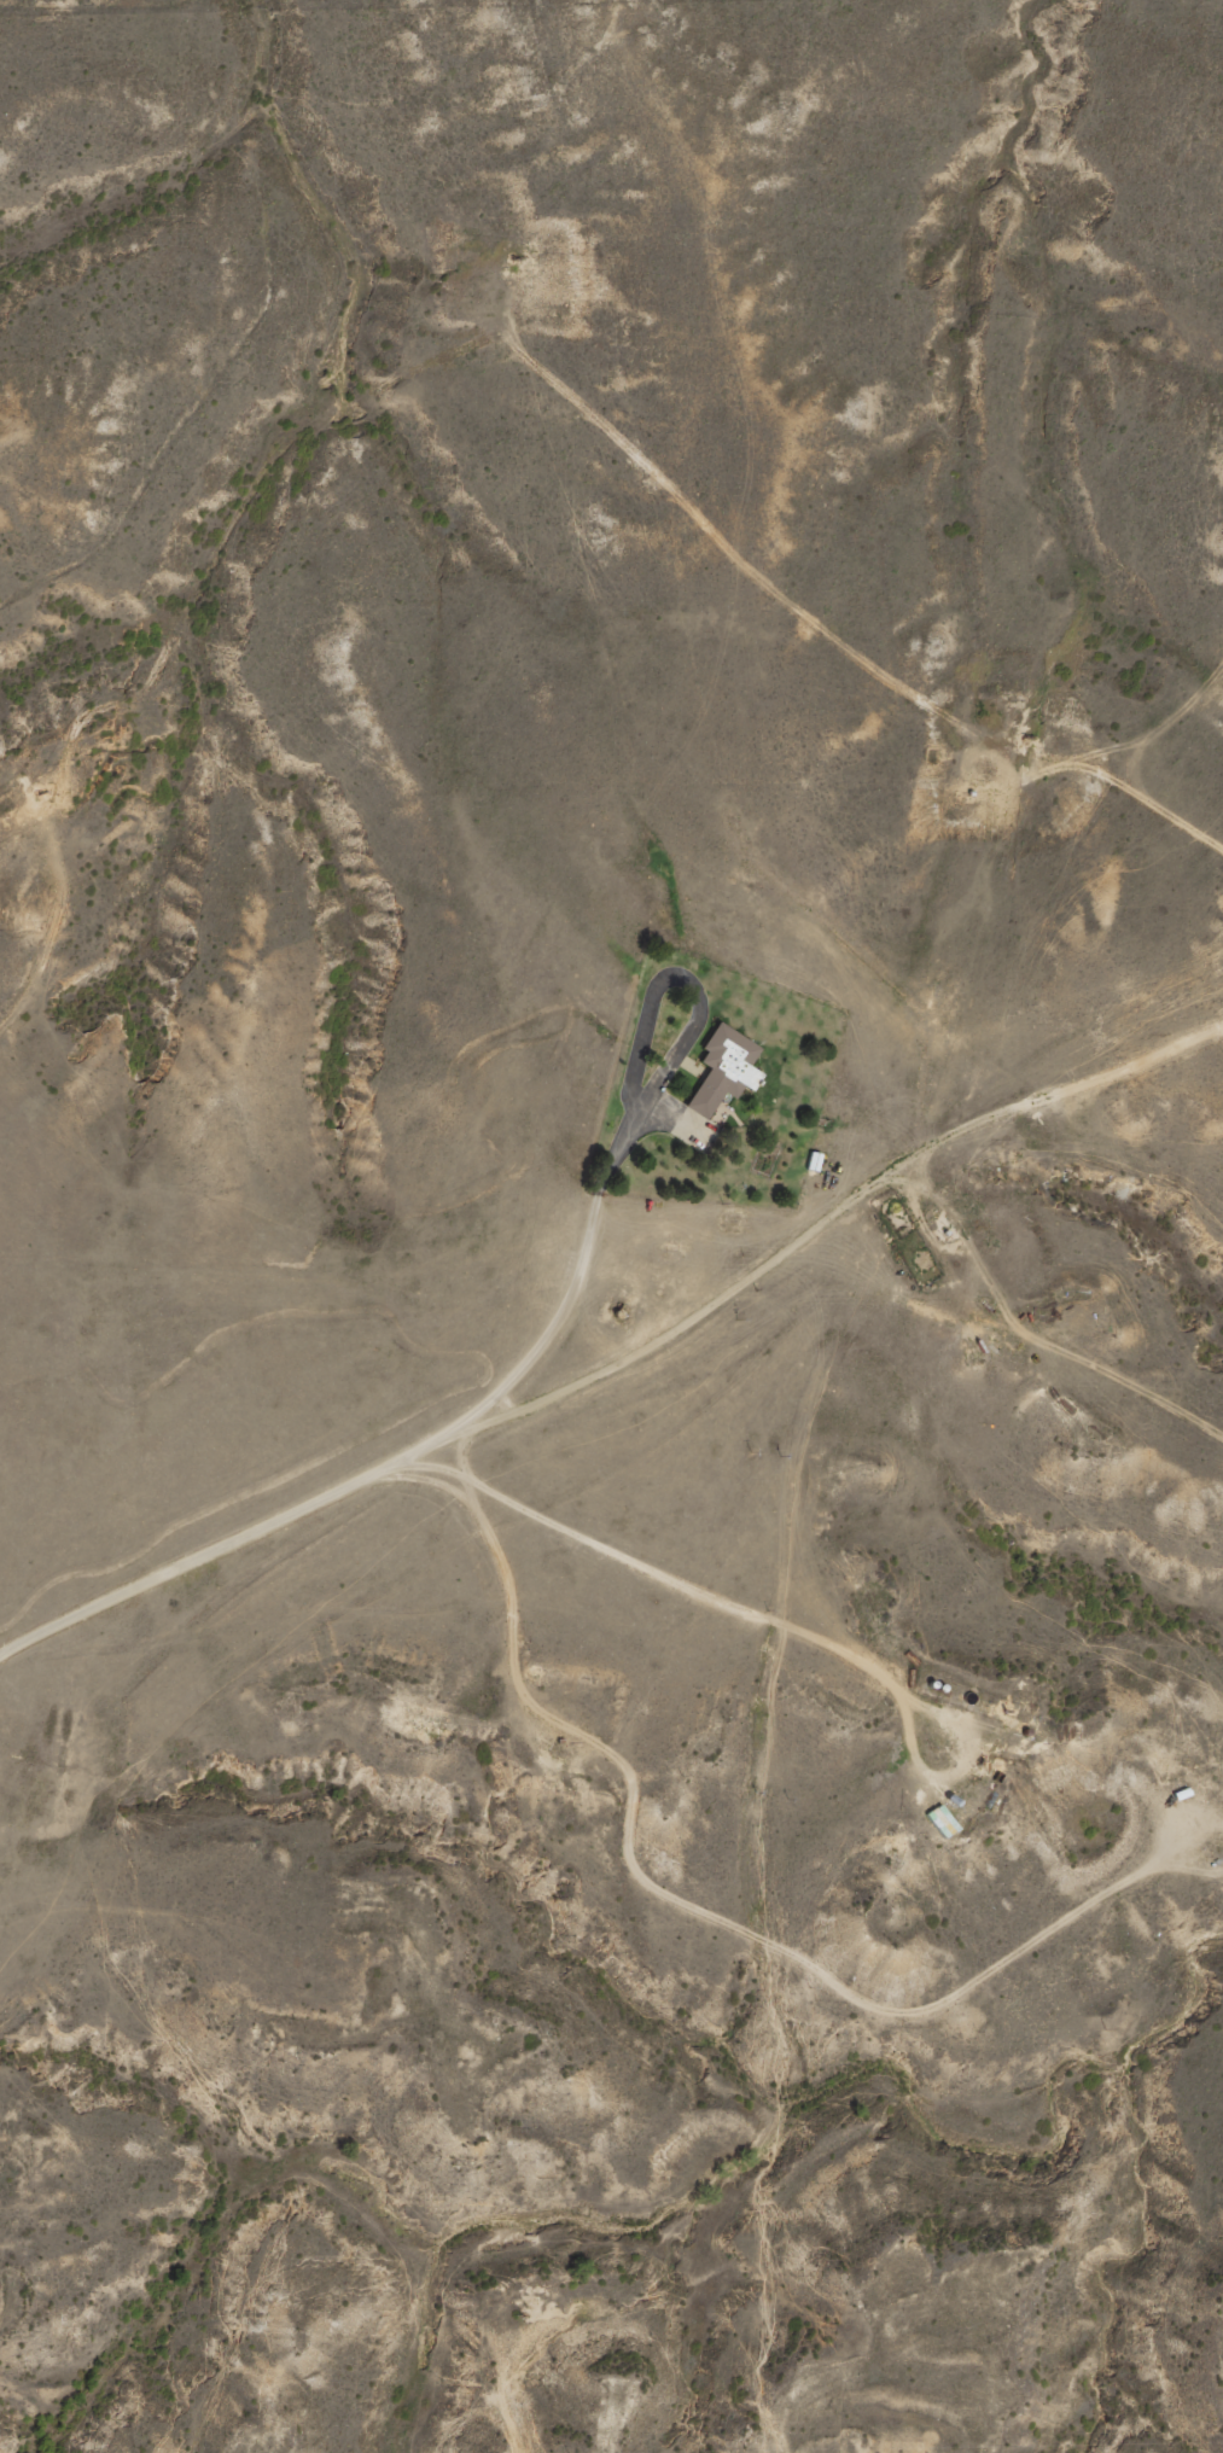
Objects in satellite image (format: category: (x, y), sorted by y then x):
building: (728, 1071)
road: (615, 1350)
building: (949, 1820)

